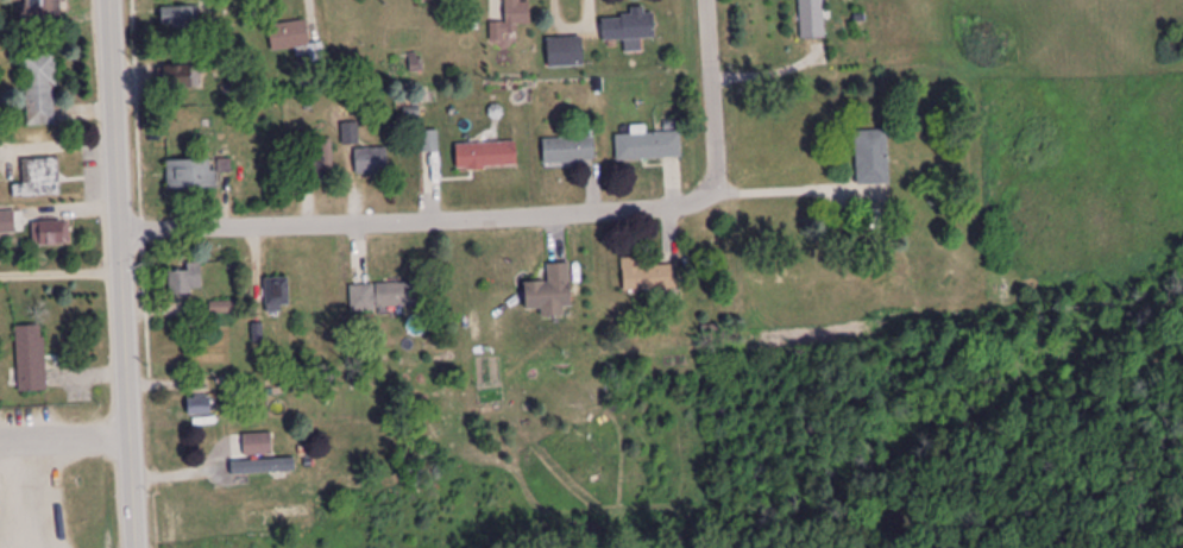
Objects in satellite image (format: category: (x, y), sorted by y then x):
building: (40, 11)
building: (180, 15)
building: (812, 18)
building: (512, 20)
building: (629, 26)
building: (289, 34)
building: (566, 52)
building: (407, 65)
building: (178, 76)
building: (40, 88)
road: (705, 95)
building: (430, 141)
building: (649, 145)
building: (568, 150)
building: (486, 155)
building: (873, 156)
building: (322, 157)
building: (371, 159)
building: (191, 174)
building: (40, 177)
road: (419, 219)
building: (50, 233)
road: (126, 273)
building: (650, 276)
building: (185, 279)
building: (552, 291)
building: (277, 295)
building: (398, 295)
building: (225, 308)
building: (31, 358)
building: (200, 405)
building: (258, 453)

